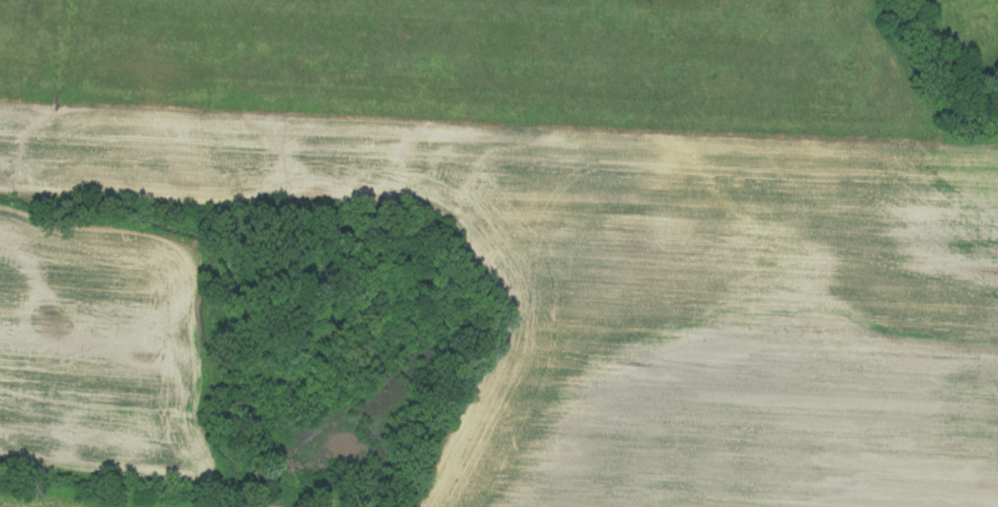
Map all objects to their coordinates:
crop: (646, 295)
crop: (93, 351)

